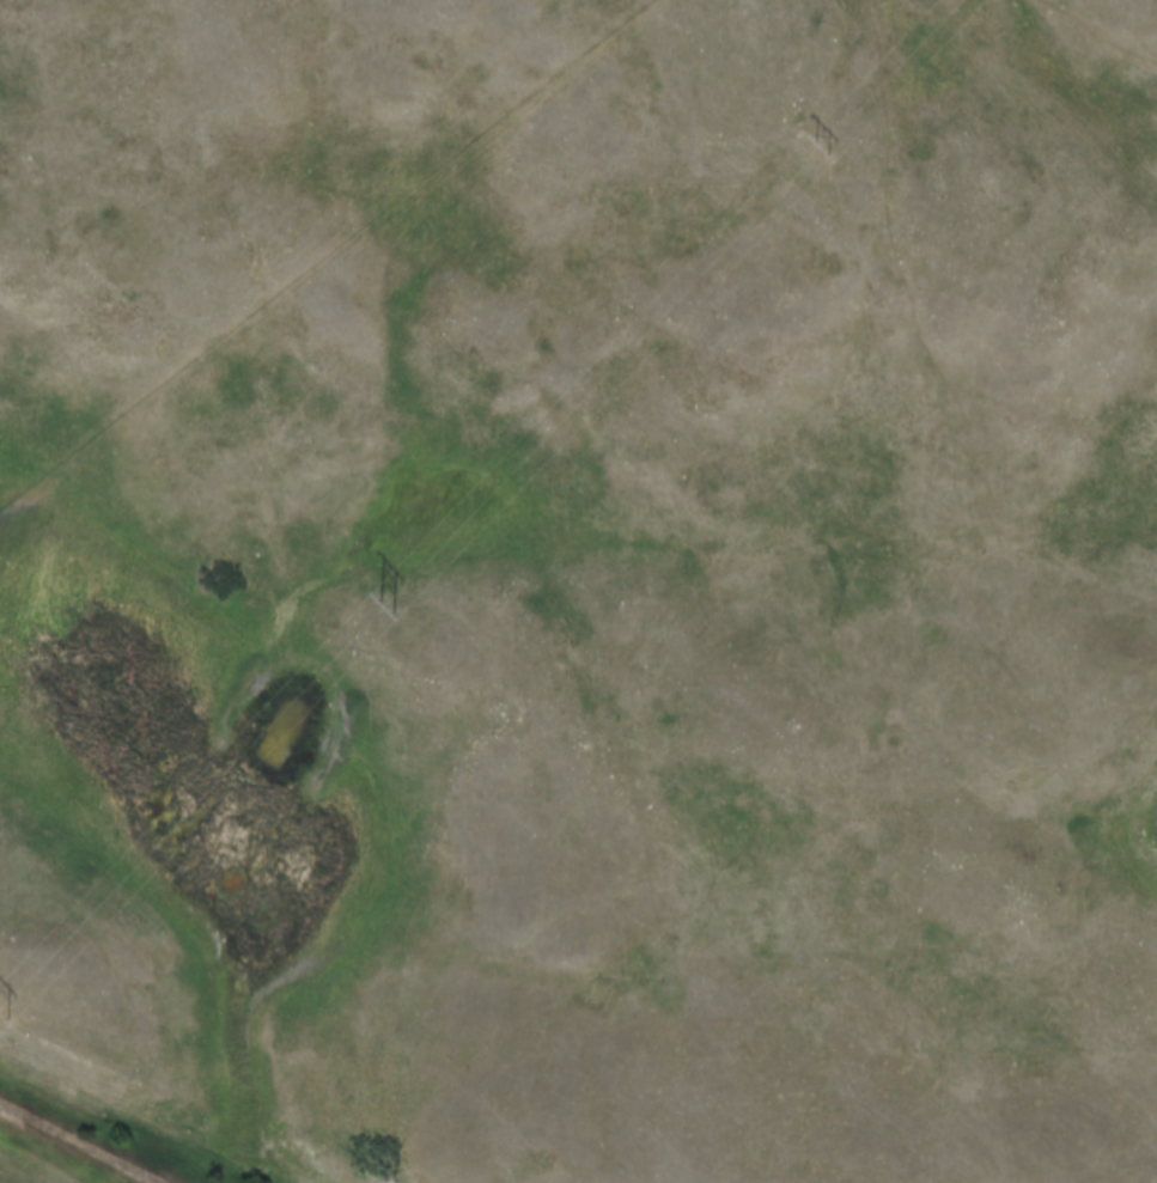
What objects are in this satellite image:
power tower: (818, 150)
power tower: (382, 609)
power tower: (2, 1010)

